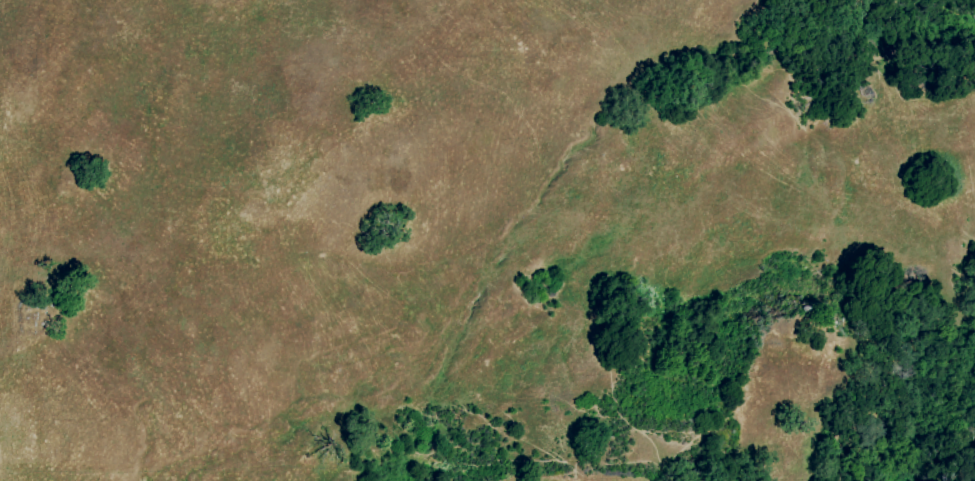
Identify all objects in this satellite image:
road: (233, 207)

